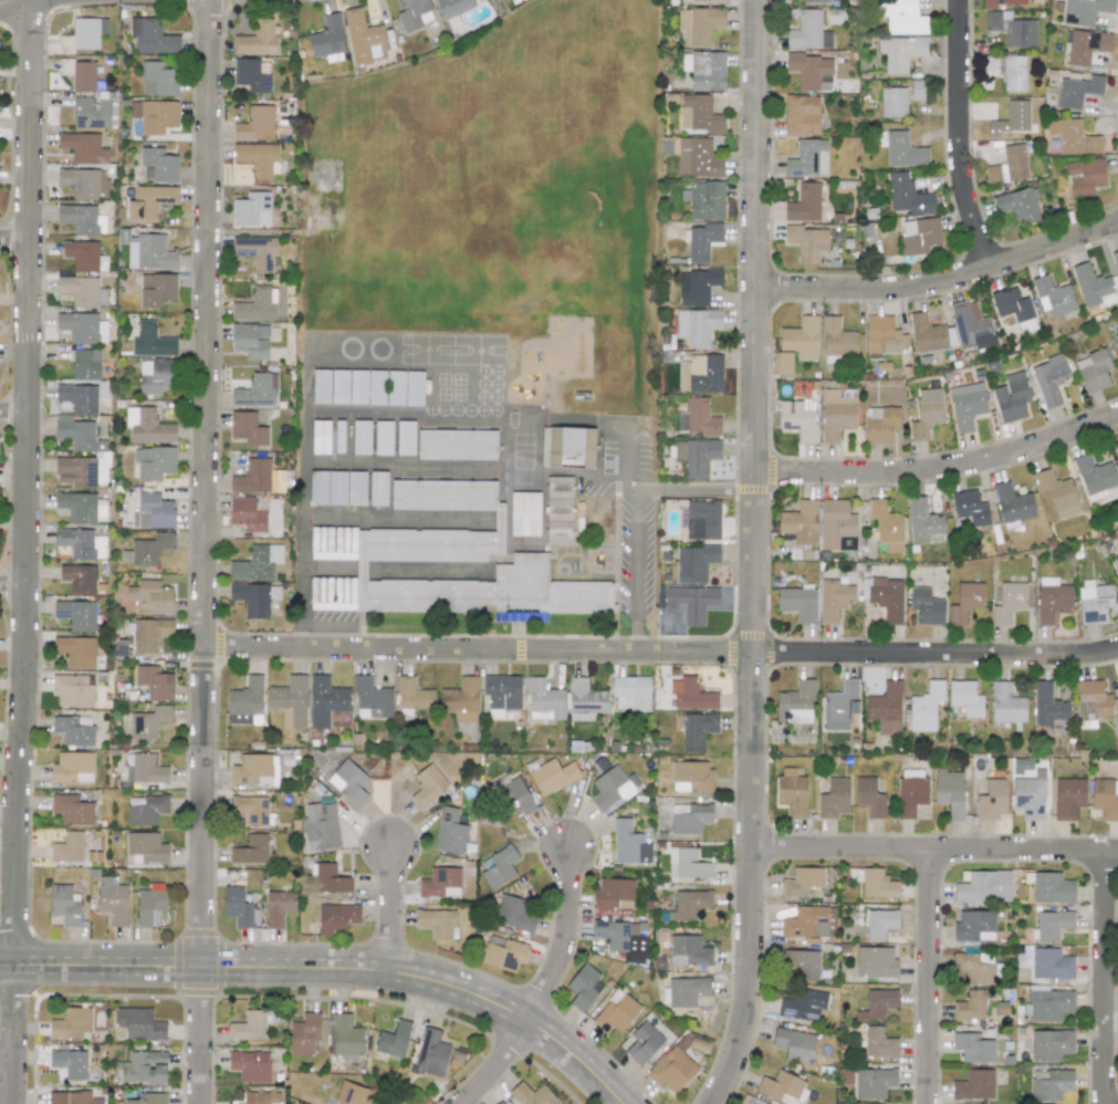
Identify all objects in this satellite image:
building: (813, 1)
building: (1000, 3)
building: (452, 7)
building: (1084, 11)
building: (414, 13)
building: (901, 17)
building: (699, 24)
building: (1011, 29)
building: (807, 32)
building: (83, 33)
building: (150, 37)
building: (362, 37)
building: (327, 39)
building: (258, 40)
building: (900, 52)
building: (807, 69)
building: (704, 70)
building: (1007, 71)
building: (251, 75)
building: (157, 80)
building: (916, 88)
building: (1076, 91)
building: (892, 102)
building: (91, 112)
building: (698, 114)
building: (154, 115)
building: (801, 115)
building: (1011, 118)
building: (255, 124)
road: (964, 133)
building: (1073, 136)
building: (83, 147)
building: (901, 149)
building: (697, 158)
building: (807, 159)
building: (158, 165)
building: (1009, 165)
building: (1084, 175)
building: (84, 183)
building: (908, 198)
building: (704, 199)
building: (149, 201)
building: (804, 204)
building: (1017, 205)
building: (251, 209)
building: (322, 213)
building: (79, 218)
building: (918, 236)
road: (14, 237)
building: (701, 241)
building: (805, 242)
building: (255, 251)
building: (149, 252)
building: (84, 256)
building: (1115, 260)
road: (942, 279)
building: (697, 285)
building: (1091, 287)
building: (157, 289)
building: (80, 290)
building: (1053, 295)
building: (257, 304)
building: (1014, 309)
building: (697, 326)
building: (971, 326)
building: (82, 327)
building: (926, 334)
building: (801, 339)
building: (837, 339)
building: (1116, 339)
building: (151, 341)
building: (249, 342)
building: (783, 363)
building: (85, 364)
building: (1093, 371)
building: (700, 373)
building: (156, 376)
building: (1049, 378)
building: (321, 386)
building: (339, 386)
building: (358, 387)
building: (376, 387)
building: (395, 387)
building: (414, 388)
building: (257, 392)
building: (79, 397)
building: (1011, 397)
building: (967, 405)
road: (14, 409)
building: (837, 413)
building: (926, 413)
road: (403, 415)
building: (697, 417)
building: (797, 418)
building: (880, 424)
building: (248, 428)
building: (338, 436)
building: (320, 437)
building: (361, 437)
building: (383, 437)
building: (405, 437)
building: (1117, 441)
building: (456, 444)
building: (568, 445)
building: (79, 452)
building: (696, 455)
road: (618, 457)
building: (154, 462)
road: (941, 467)
road: (404, 468)
building: (1094, 475)
building: (253, 477)
building: (327, 488)
building: (356, 488)
building: (377, 488)
road: (614, 490)
building: (1057, 493)
road: (304, 497)
building: (1013, 503)
building: (969, 507)
building: (82, 508)
building: (558, 509)
building: (151, 511)
road: (640, 512)
building: (524, 513)
building: (247, 514)
building: (702, 519)
road: (396, 520)
building: (922, 520)
building: (800, 522)
building: (835, 523)
building: (886, 525)
building: (406, 541)
building: (81, 543)
building: (147, 550)
road: (27, 552)
road: (208, 552)
road: (755, 555)
building: (1116, 560)
building: (257, 563)
building: (694, 563)
building: (79, 579)
road: (13, 583)
building: (150, 597)
building: (254, 597)
building: (886, 597)
building: (834, 598)
building: (1051, 600)
building: (1094, 601)
building: (691, 602)
building: (965, 602)
building: (1009, 602)
building: (797, 603)
building: (926, 606)
building: (76, 614)
building: (149, 634)
road: (644, 648)
building: (75, 650)
road: (1098, 653)
building: (1117, 676)
building: (154, 681)
building: (73, 690)
building: (502, 691)
building: (630, 692)
building: (412, 695)
building: (691, 695)
building: (372, 696)
building: (965, 698)
building: (461, 699)
building: (543, 699)
building: (584, 699)
building: (1093, 699)
building: (290, 700)
building: (324, 700)
building: (245, 702)
building: (795, 702)
building: (1005, 704)
building: (1047, 705)
building: (885, 707)
building: (924, 707)
building: (149, 721)
building: (73, 729)
building: (697, 730)
building: (72, 767)
building: (145, 768)
building: (253, 770)
building: (552, 775)
building: (691, 775)
building: (348, 782)
building: (428, 785)
building: (612, 787)
building: (949, 791)
building: (791, 792)
building: (512, 794)
building: (910, 795)
building: (1028, 796)
building: (834, 798)
building: (869, 798)
building: (1068, 798)
building: (1105, 798)
building: (992, 800)
building: (145, 809)
building: (250, 809)
building: (72, 810)
building: (689, 817)
building: (320, 826)
building: (450, 832)
building: (628, 843)
building: (67, 847)
building: (146, 847)
road: (842, 847)
road: (1023, 848)
building: (250, 850)
building: (688, 863)
building: (499, 866)
building: (326, 879)
building: (440, 883)
building: (803, 883)
building: (877, 884)
building: (983, 886)
building: (1052, 887)
building: (614, 894)
building: (113, 902)
building: (65, 904)
building: (689, 904)
building: (149, 905)
building: (237, 907)
building: (278, 907)
road: (391, 909)
building: (513, 914)
building: (336, 918)
building: (805, 921)
building: (437, 923)
building: (879, 923)
building: (1052, 925)
building: (974, 926)
road: (564, 938)
building: (623, 939)
building: (688, 950)
building: (502, 952)
building: (803, 962)
building: (875, 962)
building: (1051, 964)
road: (333, 967)
building: (975, 967)
road: (929, 976)
road: (1107, 977)
building: (583, 987)
building: (685, 991)
building: (877, 1003)
building: (1048, 1003)
building: (971, 1004)
building: (802, 1006)
building: (615, 1012)
road: (1112, 1017)
building: (71, 1022)
building: (139, 1023)
building: (251, 1024)
building: (304, 1033)
building: (346, 1035)
building: (393, 1040)
building: (640, 1043)
building: (685, 1043)
building: (879, 1043)
building: (794, 1044)
building: (1049, 1044)
building: (973, 1048)
building: (70, 1063)
building: (250, 1065)
road: (500, 1065)
building: (144, 1067)
building: (671, 1070)
building: (874, 1082)
building: (973, 1085)
building: (1051, 1085)
building: (781, 1086)
building: (352, 1094)
building: (533, 1094)
building: (71, 1097)
building: (260, 1097)
building: (147, 1098)
building: (499, 1103)

